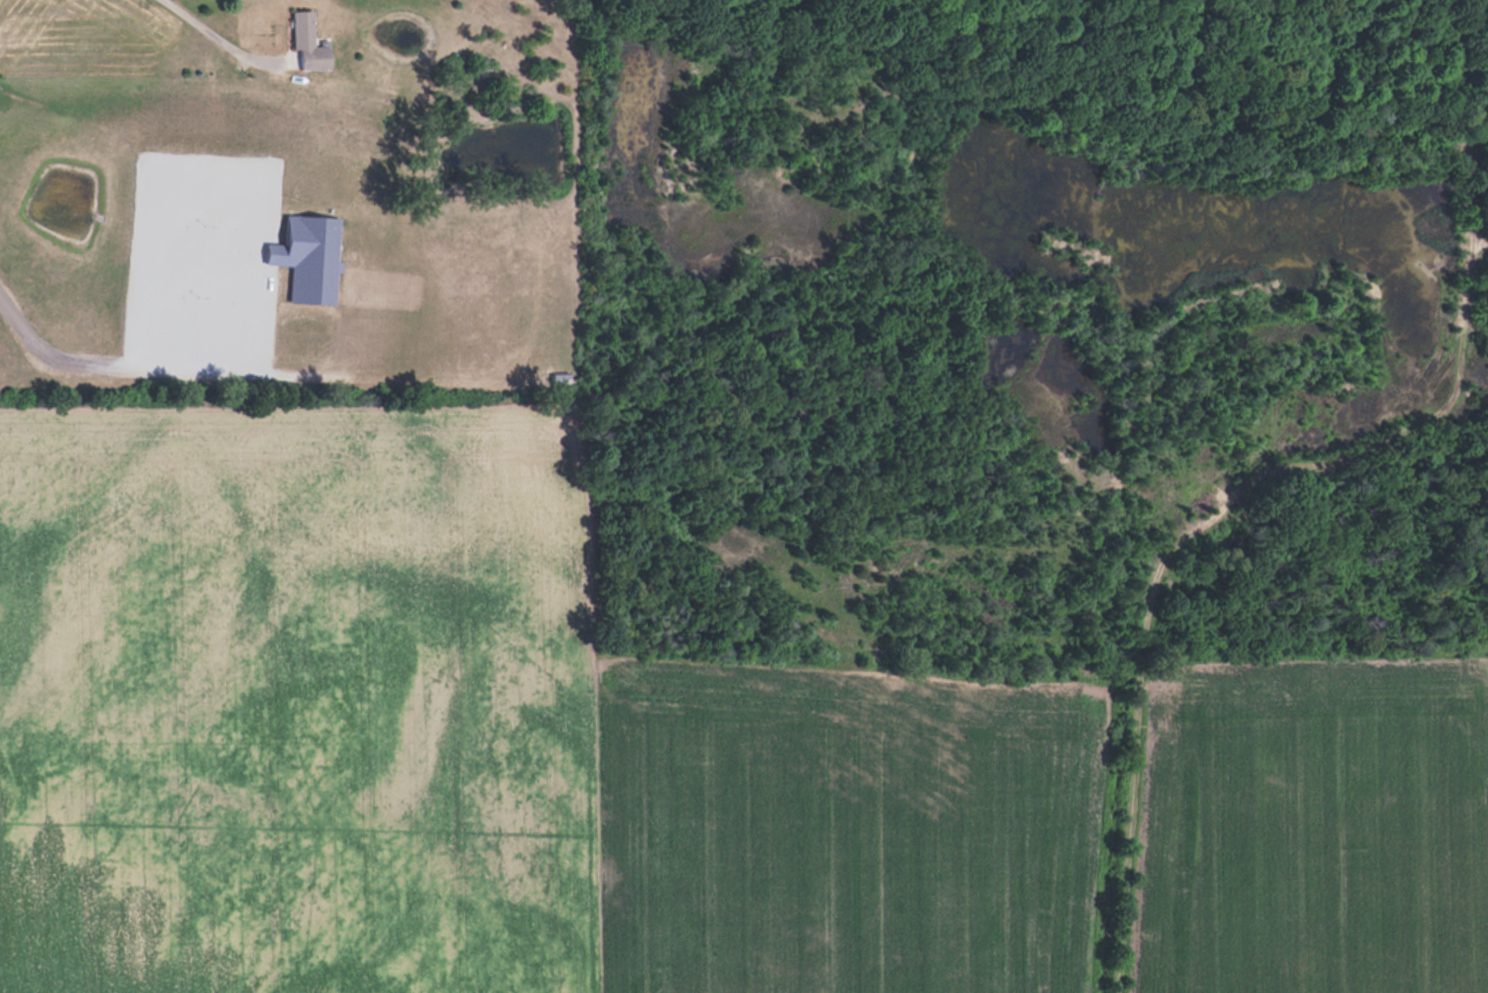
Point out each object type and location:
road: (223, 39)
building: (309, 43)
road: (161, 361)
road: (1218, 496)

